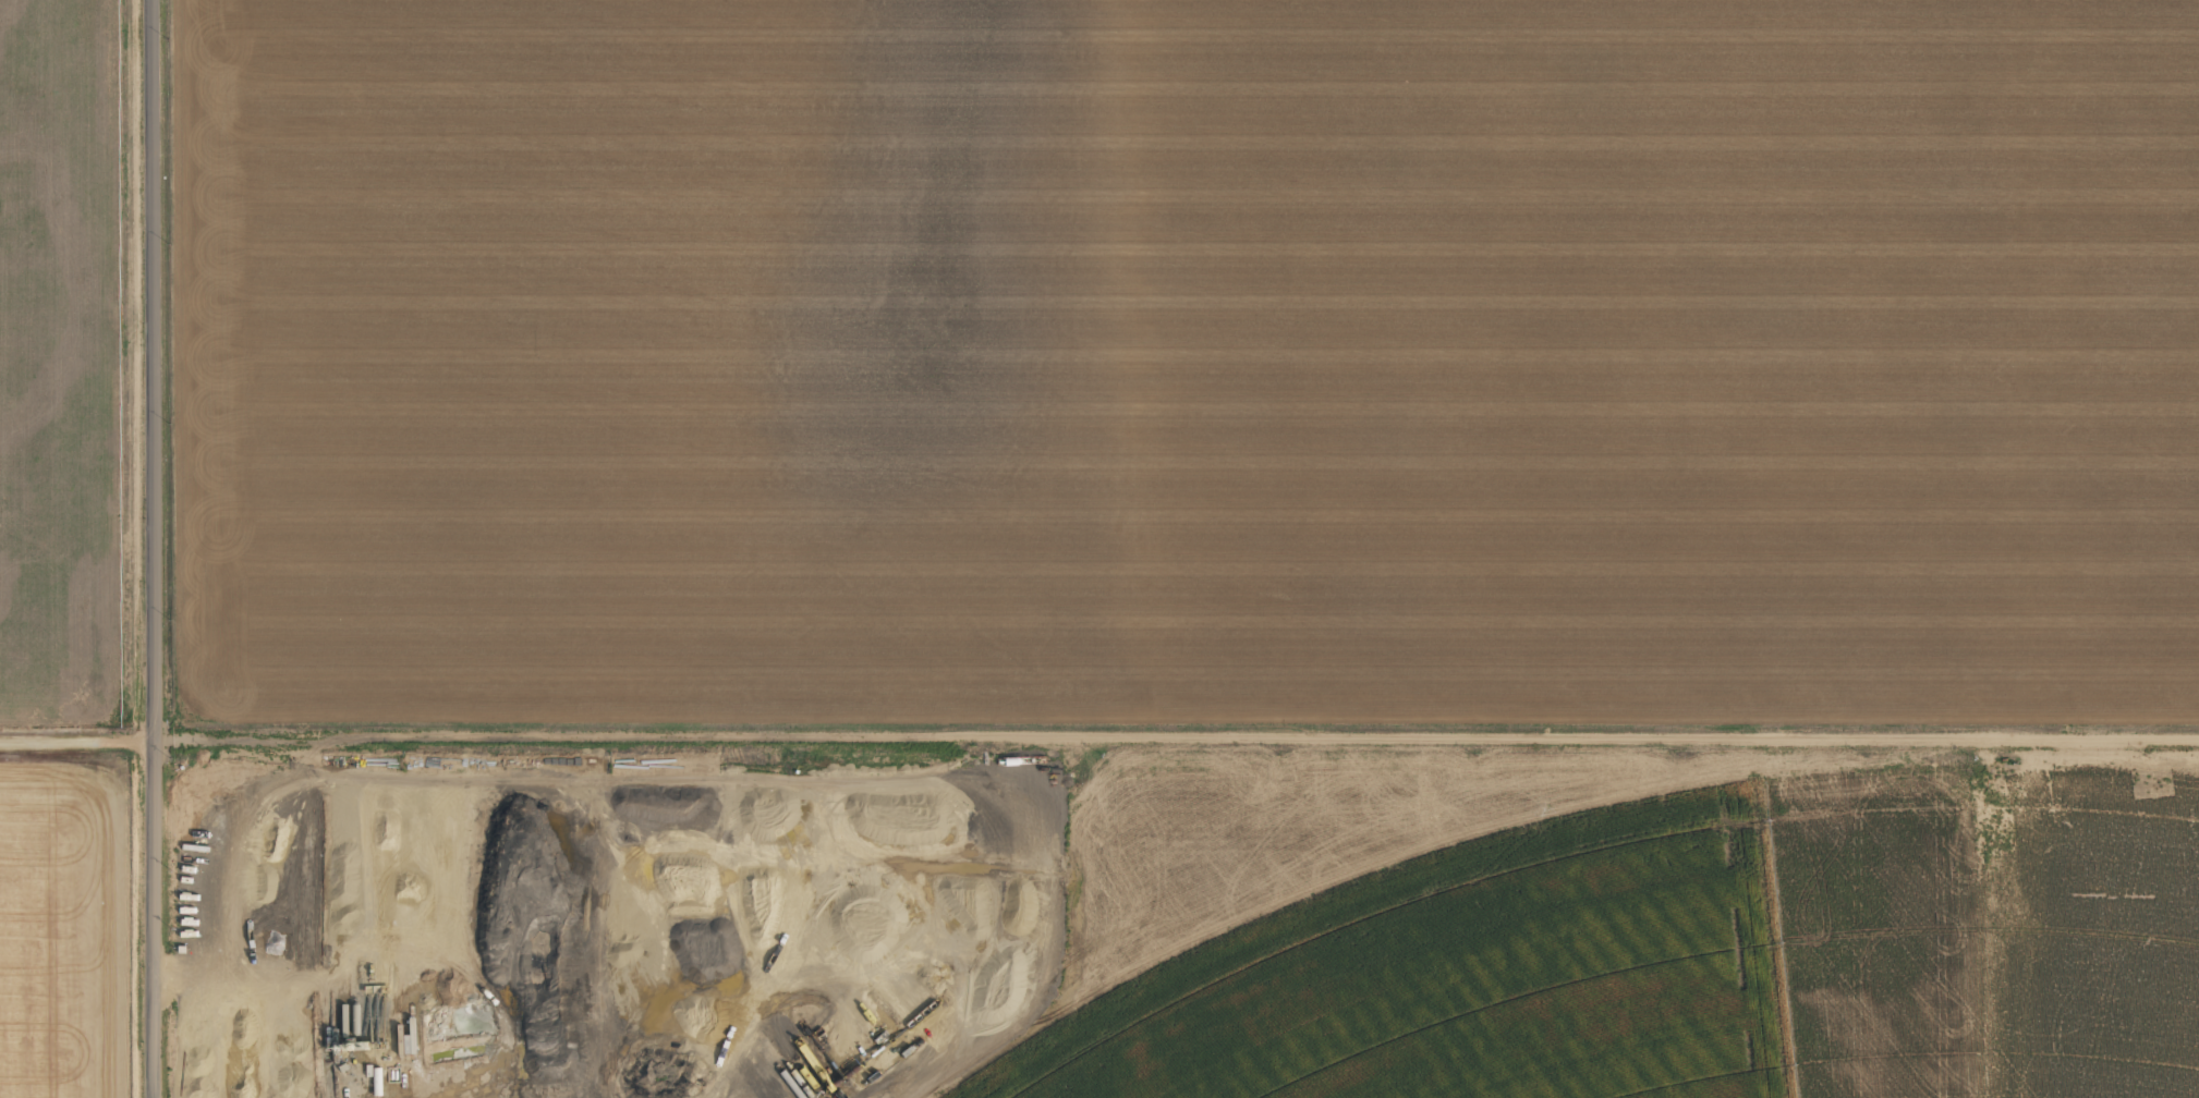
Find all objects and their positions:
road: (155, 548)
road: (1099, 746)

